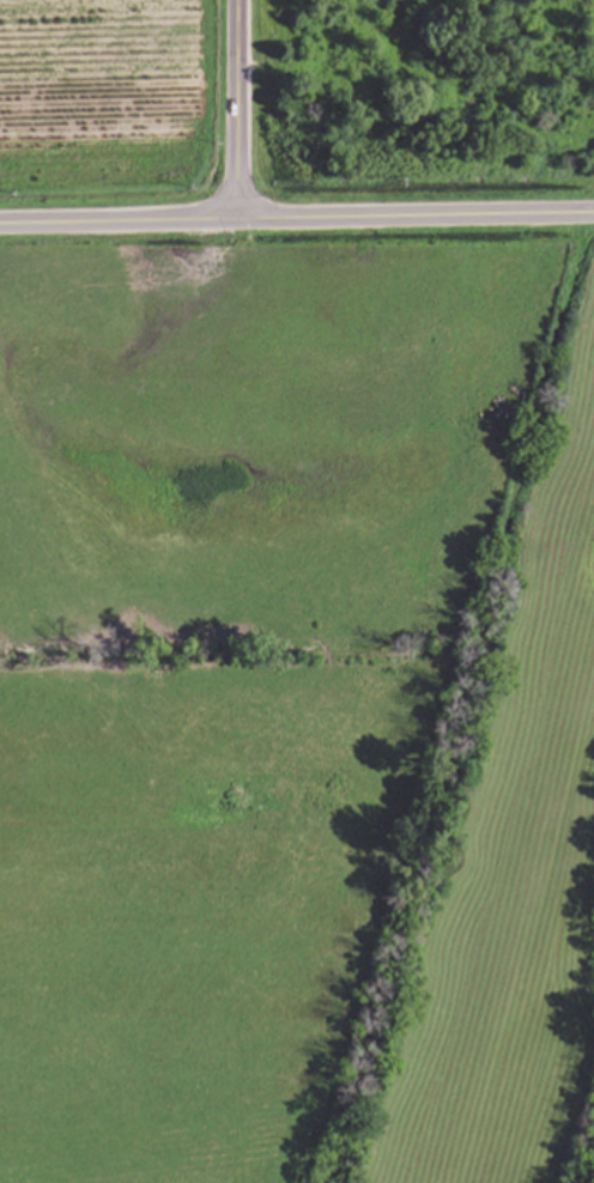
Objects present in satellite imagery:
road: (241, 110)
road: (296, 219)

